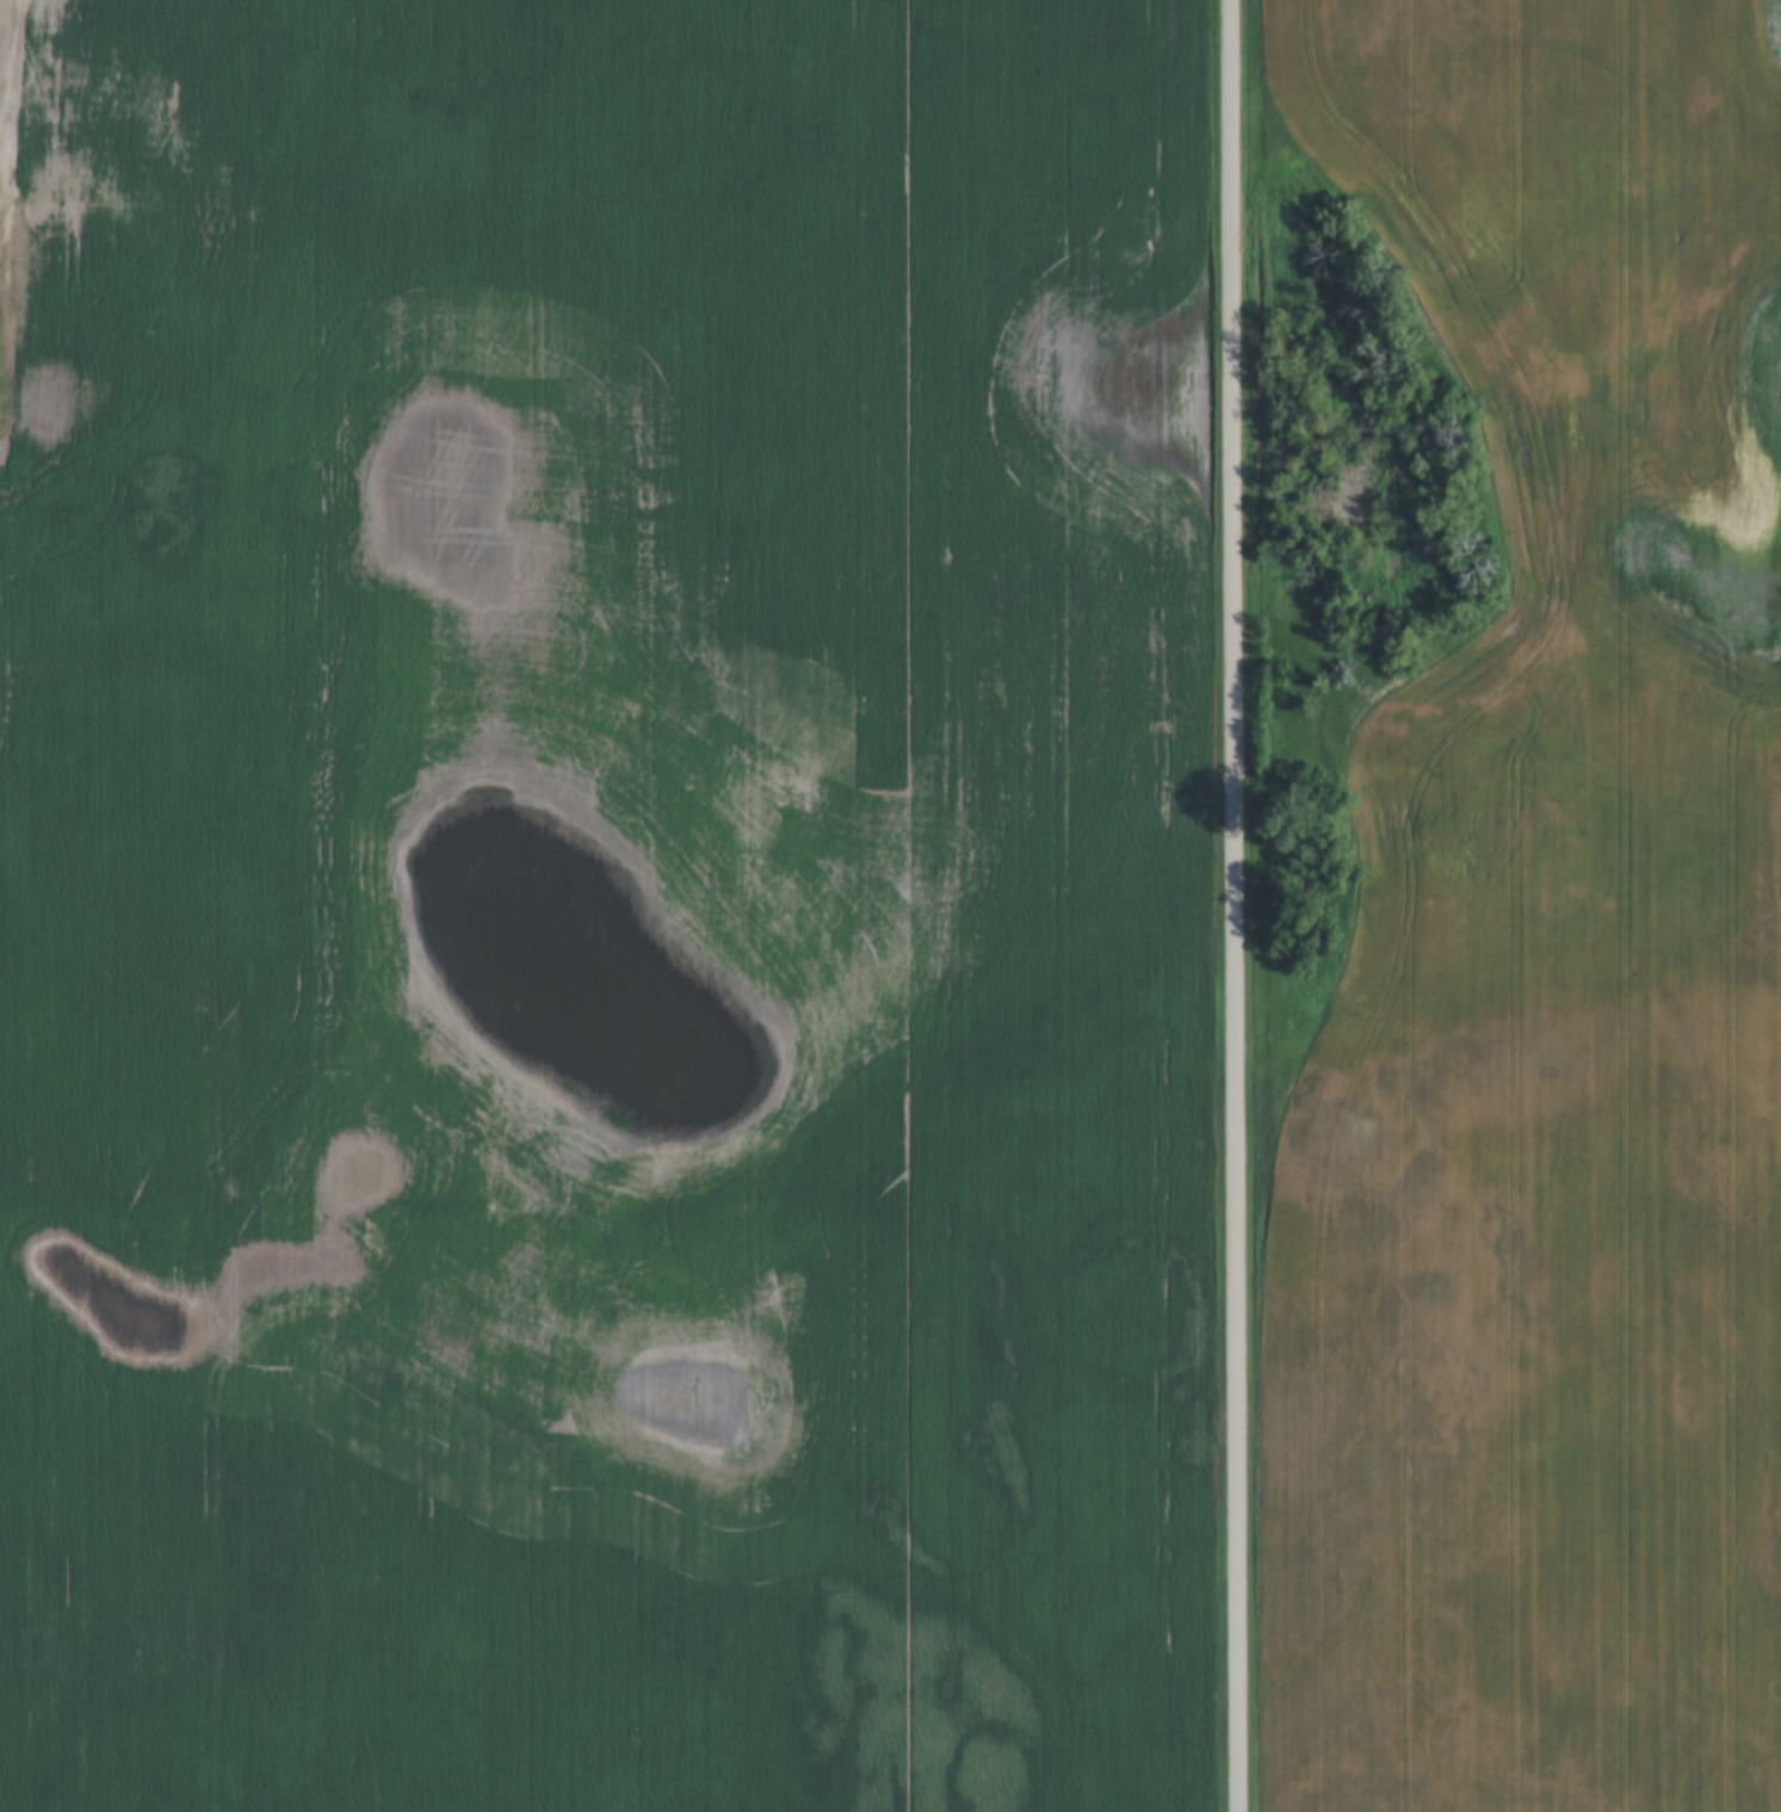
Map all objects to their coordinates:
road: (1235, 905)

